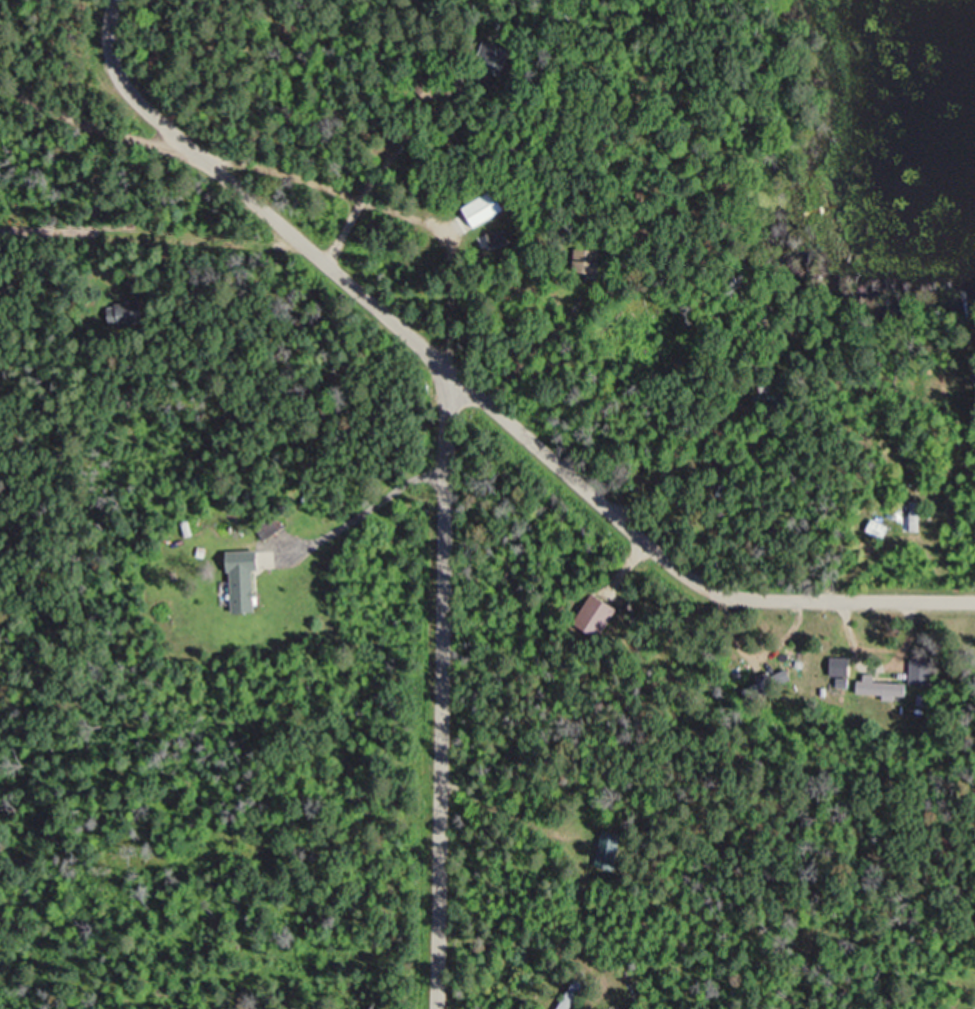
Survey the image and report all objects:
road: (128, 82)
road: (92, 124)
building: (126, 313)
road: (373, 504)
building: (916, 517)
road: (443, 519)
building: (271, 529)
building: (879, 531)
road: (676, 569)
building: (245, 584)
building: (596, 617)
building: (921, 672)
building: (882, 688)
building: (608, 849)
building: (568, 1003)
building: (966, 1007)

